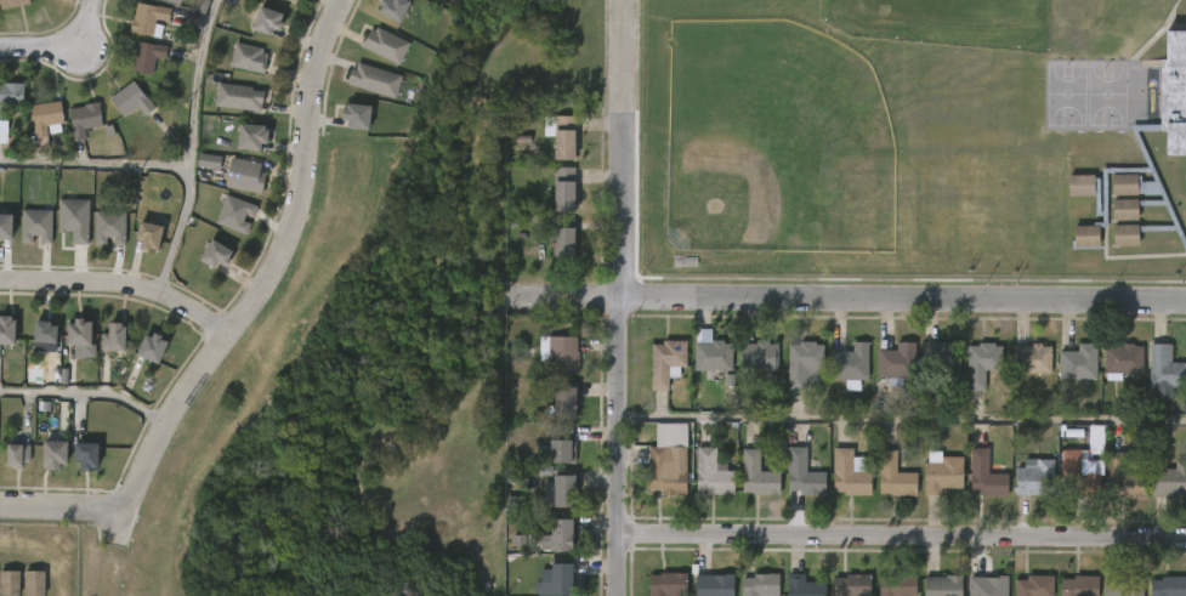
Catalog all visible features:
building: (286, 0)
building: (174, 1)
building: (11, 4)
building: (392, 8)
building: (148, 18)
building: (266, 19)
building: (387, 45)
road: (62, 46)
building: (146, 56)
building: (250, 57)
building: (378, 80)
road: (195, 83)
building: (10, 96)
building: (237, 97)
building: (130, 98)
building: (354, 115)
building: (81, 119)
building: (42, 121)
building: (2, 131)
building: (250, 136)
building: (563, 137)
building: (1175, 142)
building: (209, 161)
road: (158, 165)
building: (248, 176)
building: (563, 188)
building: (234, 214)
building: (73, 218)
building: (35, 225)
building: (5, 226)
building: (108, 227)
building: (146, 235)
building: (561, 244)
building: (220, 255)
road: (118, 282)
road: (259, 285)
road: (572, 294)
road: (902, 295)
road: (619, 297)
building: (5, 329)
building: (42, 331)
building: (76, 331)
building: (112, 337)
building: (149, 347)
building: (558, 354)
building: (713, 356)
building: (757, 356)
building: (938, 357)
building: (1032, 357)
building: (665, 361)
building: (1123, 361)
building: (892, 362)
building: (1078, 362)
building: (981, 363)
building: (802, 364)
building: (846, 364)
building: (1164, 368)
road: (86, 392)
building: (563, 403)
road: (902, 418)
building: (558, 445)
building: (52, 454)
building: (17, 455)
building: (84, 455)
building: (668, 470)
building: (713, 472)
building: (801, 472)
building: (850, 472)
building: (942, 472)
building: (893, 473)
building: (756, 475)
building: (984, 475)
building: (1077, 476)
building: (1123, 478)
building: (1035, 479)
building: (1169, 481)
building: (560, 492)
road: (61, 509)
road: (902, 535)
building: (557, 537)
building: (560, 578)
building: (33, 579)
building: (668, 584)
building: (897, 584)
building: (713, 585)
building: (760, 585)
building: (852, 585)
building: (942, 585)
building: (987, 585)
building: (1076, 585)
building: (1119, 585)
building: (804, 586)
building: (1035, 586)
building: (1169, 586)

